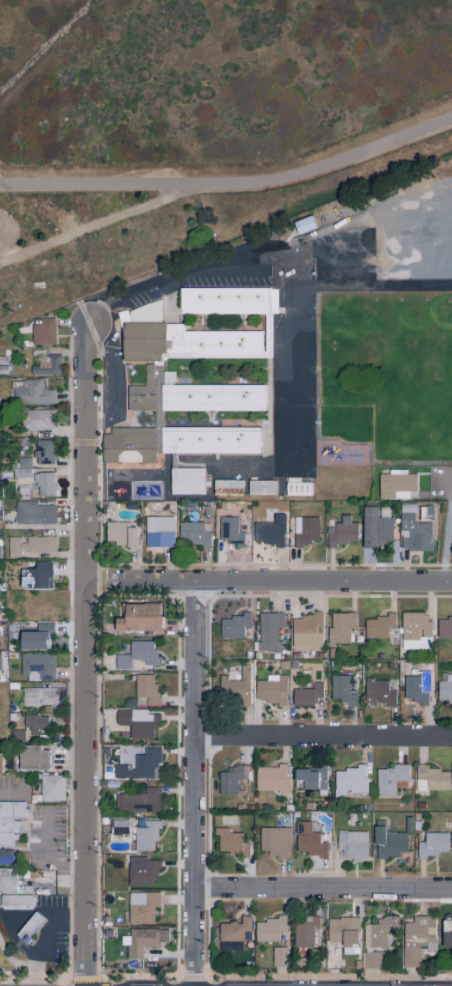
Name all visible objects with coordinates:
road: (47, 47)
road: (231, 184)
road: (100, 223)
building: (302, 225)
road: (172, 276)
building: (226, 300)
building: (121, 317)
building: (40, 331)
building: (183, 342)
building: (2, 364)
building: (45, 366)
road: (108, 388)
building: (146, 388)
building: (31, 393)
building: (210, 398)
building: (36, 419)
building: (207, 440)
building: (127, 445)
building: (42, 451)
building: (20, 468)
building: (185, 481)
building: (42, 483)
building: (395, 485)
building: (225, 487)
building: (260, 487)
building: (295, 487)
building: (32, 513)
building: (373, 528)
building: (304, 530)
building: (411, 530)
building: (228, 531)
road: (444, 531)
building: (157, 532)
building: (340, 532)
building: (267, 533)
building: (119, 534)
building: (191, 534)
building: (27, 544)
building: (36, 575)
road: (266, 582)
building: (137, 617)
building: (232, 625)
building: (376, 625)
building: (338, 626)
building: (443, 627)
building: (267, 629)
building: (304, 630)
building: (413, 630)
building: (34, 637)
road: (82, 654)
building: (135, 654)
building: (34, 665)
building: (234, 686)
building: (144, 688)
building: (269, 689)
building: (340, 689)
building: (444, 689)
building: (412, 691)
building: (376, 692)
building: (305, 694)
building: (36, 696)
building: (135, 722)
building: (33, 723)
road: (324, 735)
building: (0, 753)
building: (32, 757)
building: (138, 765)
building: (451, 769)
building: (310, 777)
building: (270, 778)
building: (388, 778)
building: (429, 778)
building: (228, 779)
building: (348, 780)
road: (197, 784)
building: (50, 787)
road: (10, 795)
building: (136, 800)
building: (8, 820)
building: (144, 835)
building: (307, 840)
building: (273, 841)
building: (228, 842)
building: (387, 842)
building: (349, 844)
building: (430, 844)
road: (44, 856)
building: (4, 857)
building: (140, 870)
building: (6, 879)
road: (324, 887)
building: (140, 906)
building: (28, 927)
building: (268, 928)
building: (304, 932)
building: (342, 932)
building: (231, 933)
building: (415, 939)
road: (47, 940)
building: (140, 940)
building: (277, 956)
building: (371, 960)

